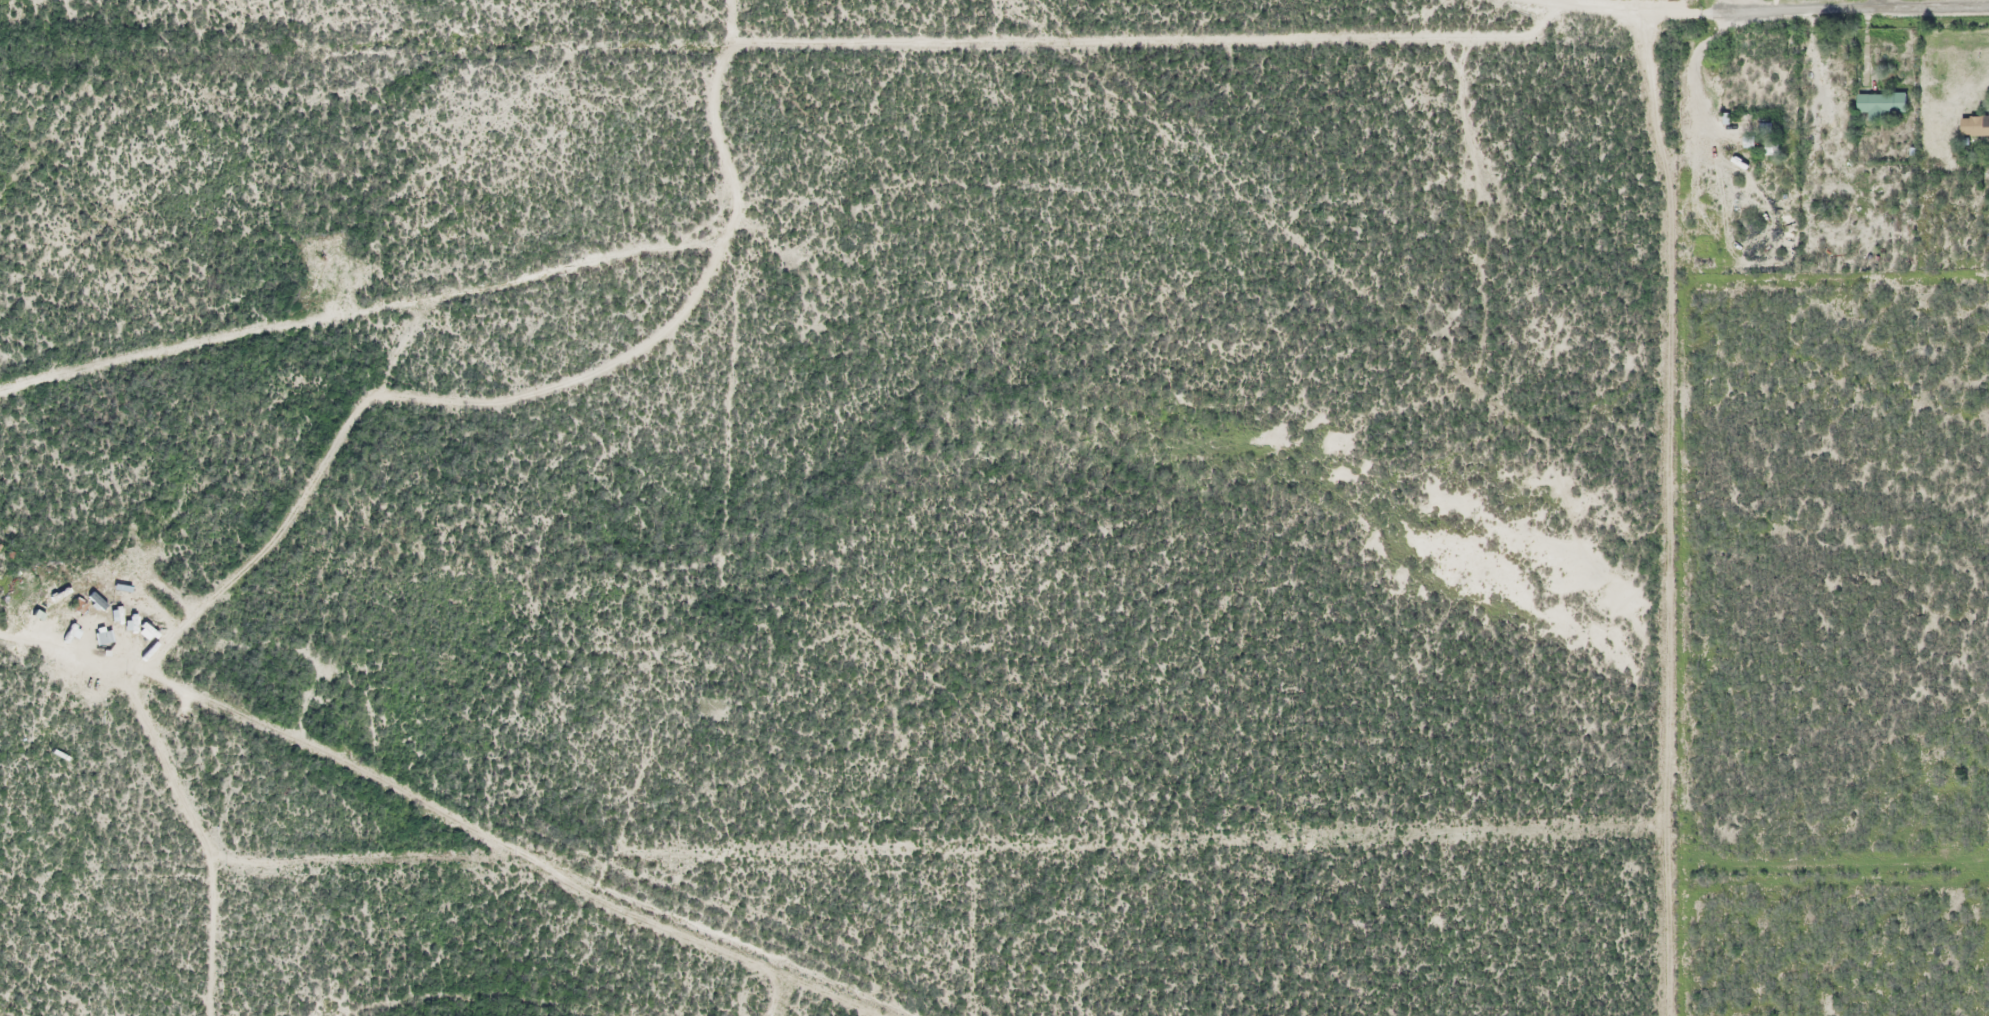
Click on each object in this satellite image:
road: (1623, 6)
road: (1845, 9)
building: (1882, 104)
building: (1975, 125)
building: (1772, 147)
road: (499, 401)

